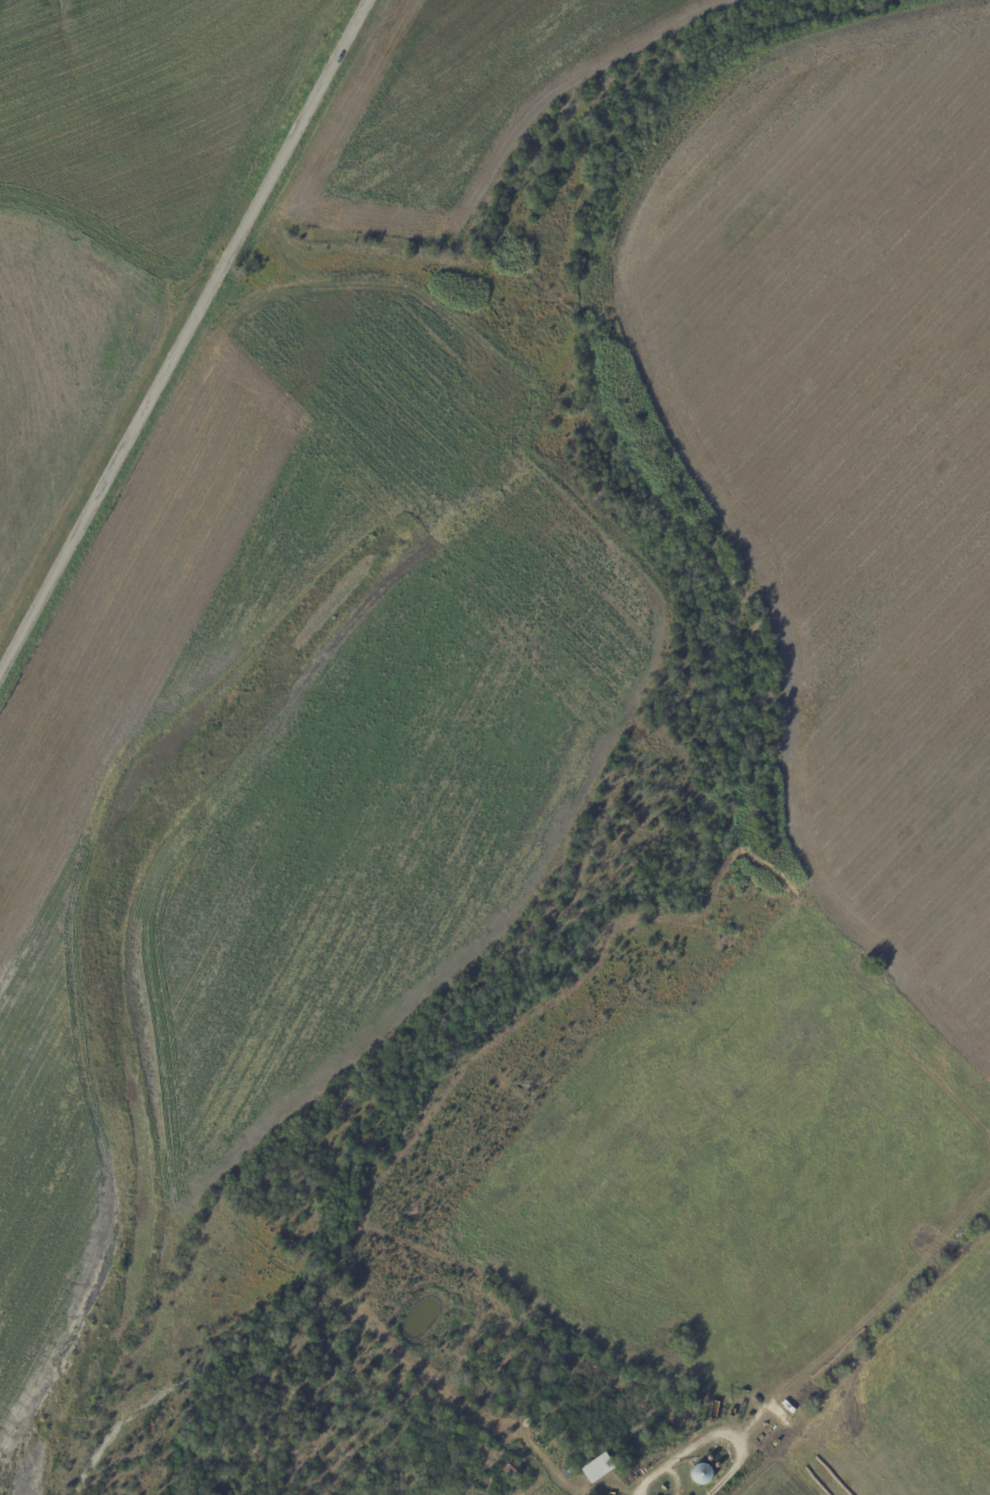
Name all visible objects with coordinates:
road: (179, 332)
building: (596, 1468)
building: (513, 1470)
building: (576, 1483)
building: (618, 1483)

